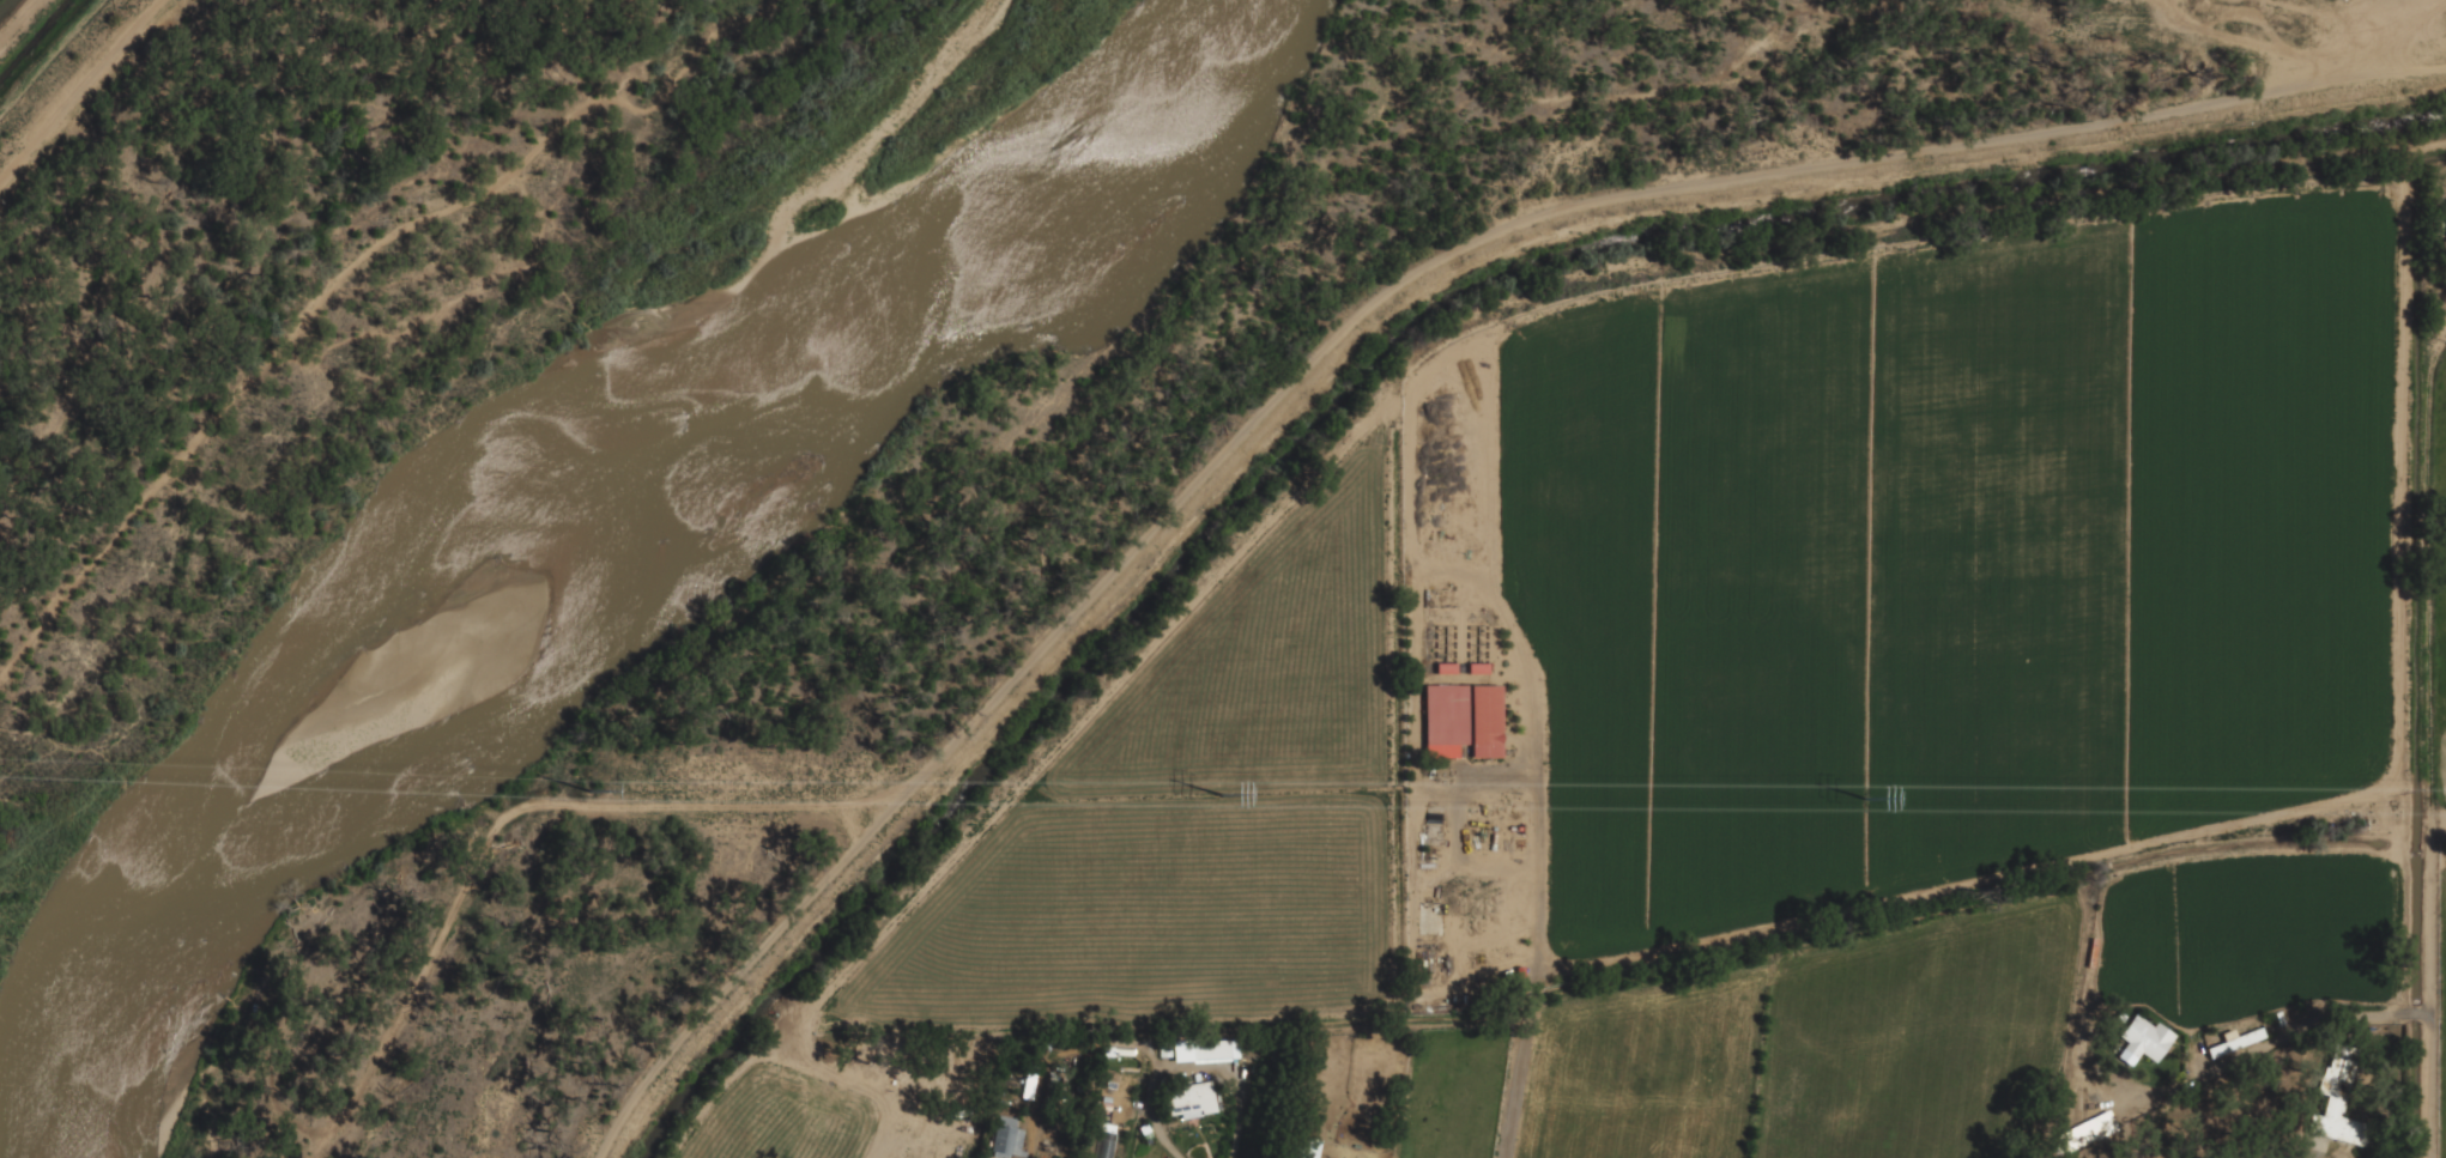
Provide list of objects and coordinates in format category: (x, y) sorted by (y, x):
road: (1360, 314)
river: (570, 546)
crop: (1968, 679)
building: (1461, 719)
power tower: (591, 793)
power tower: (1223, 795)
power tower: (1871, 799)
road: (1537, 926)
road: (2433, 988)
building: (2145, 1037)
building: (2236, 1042)
building: (1211, 1050)
road: (1188, 1066)
building: (1029, 1084)
building: (1051, 1087)
building: (1188, 1098)
building: (2337, 1101)
building: (2083, 1133)
building: (1009, 1138)
building: (1303, 1146)
building: (985, 1157)

